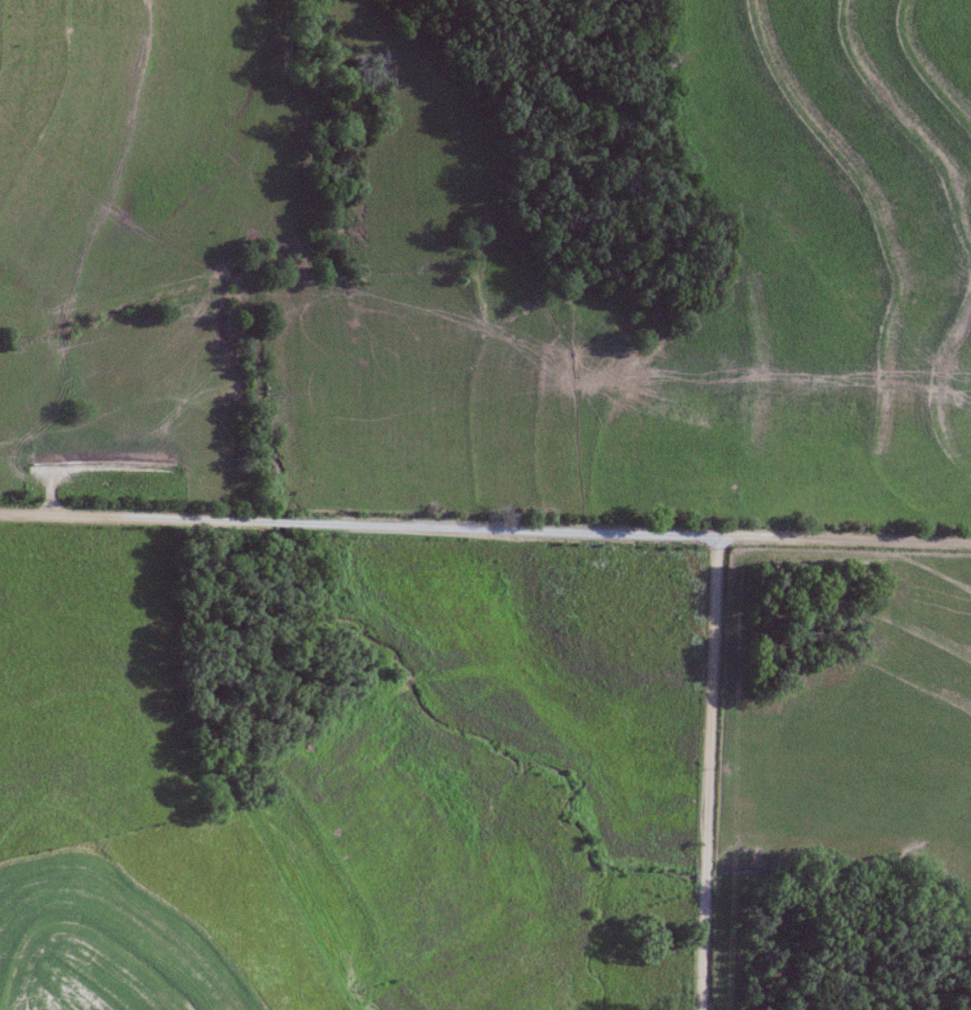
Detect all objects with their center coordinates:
road: (485, 528)
road: (709, 771)

